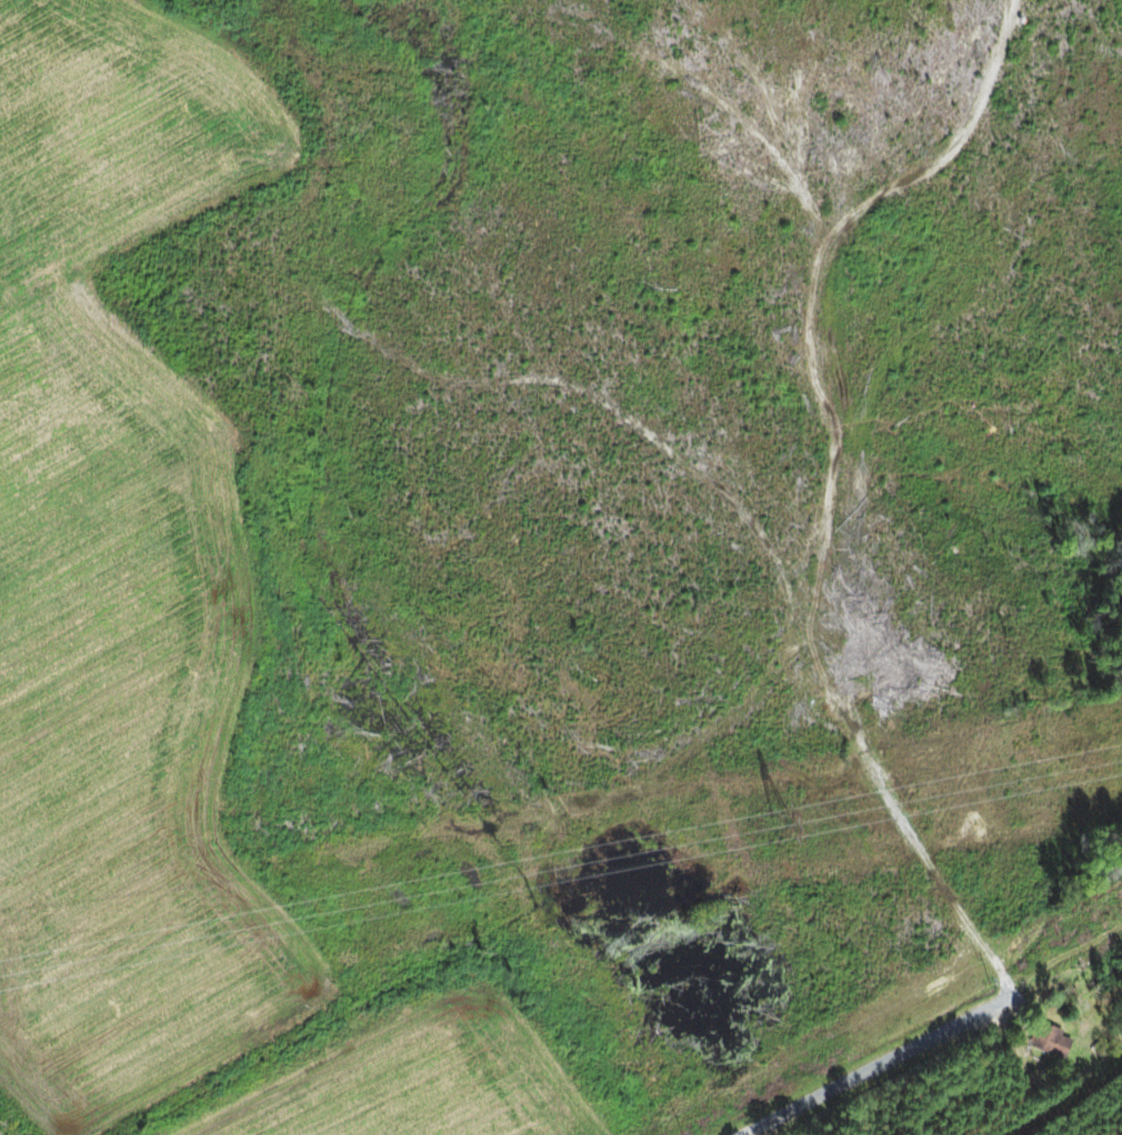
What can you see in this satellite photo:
power tower: (778, 826)
building: (1049, 1041)
road: (862, 1087)

